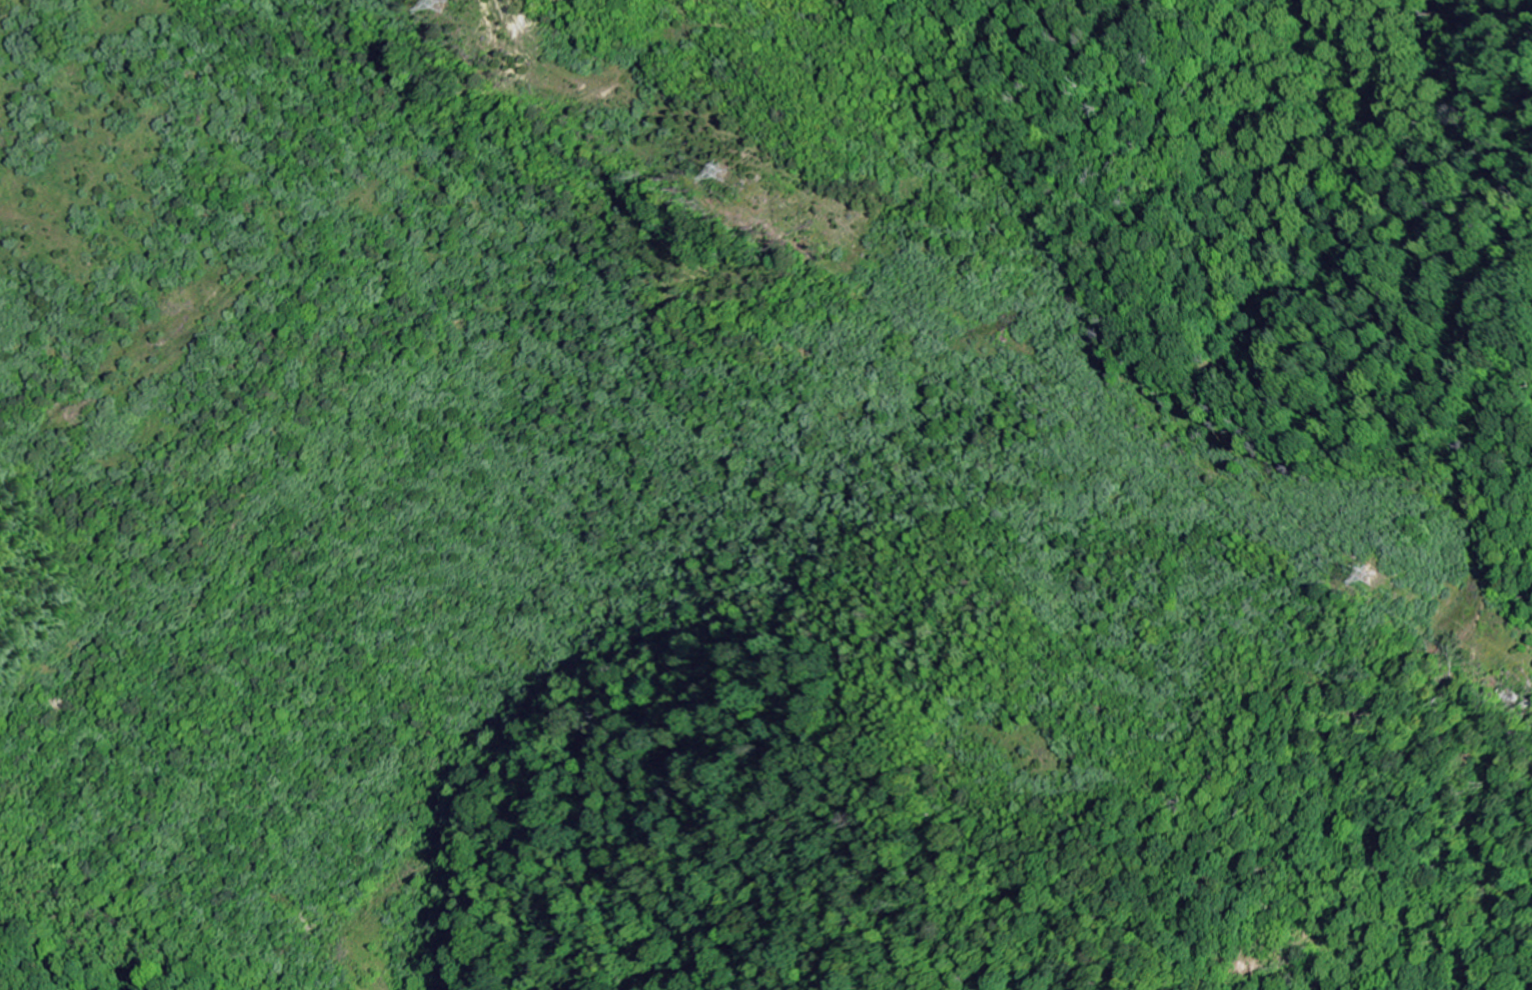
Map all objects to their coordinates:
power tower: (1379, 580)

